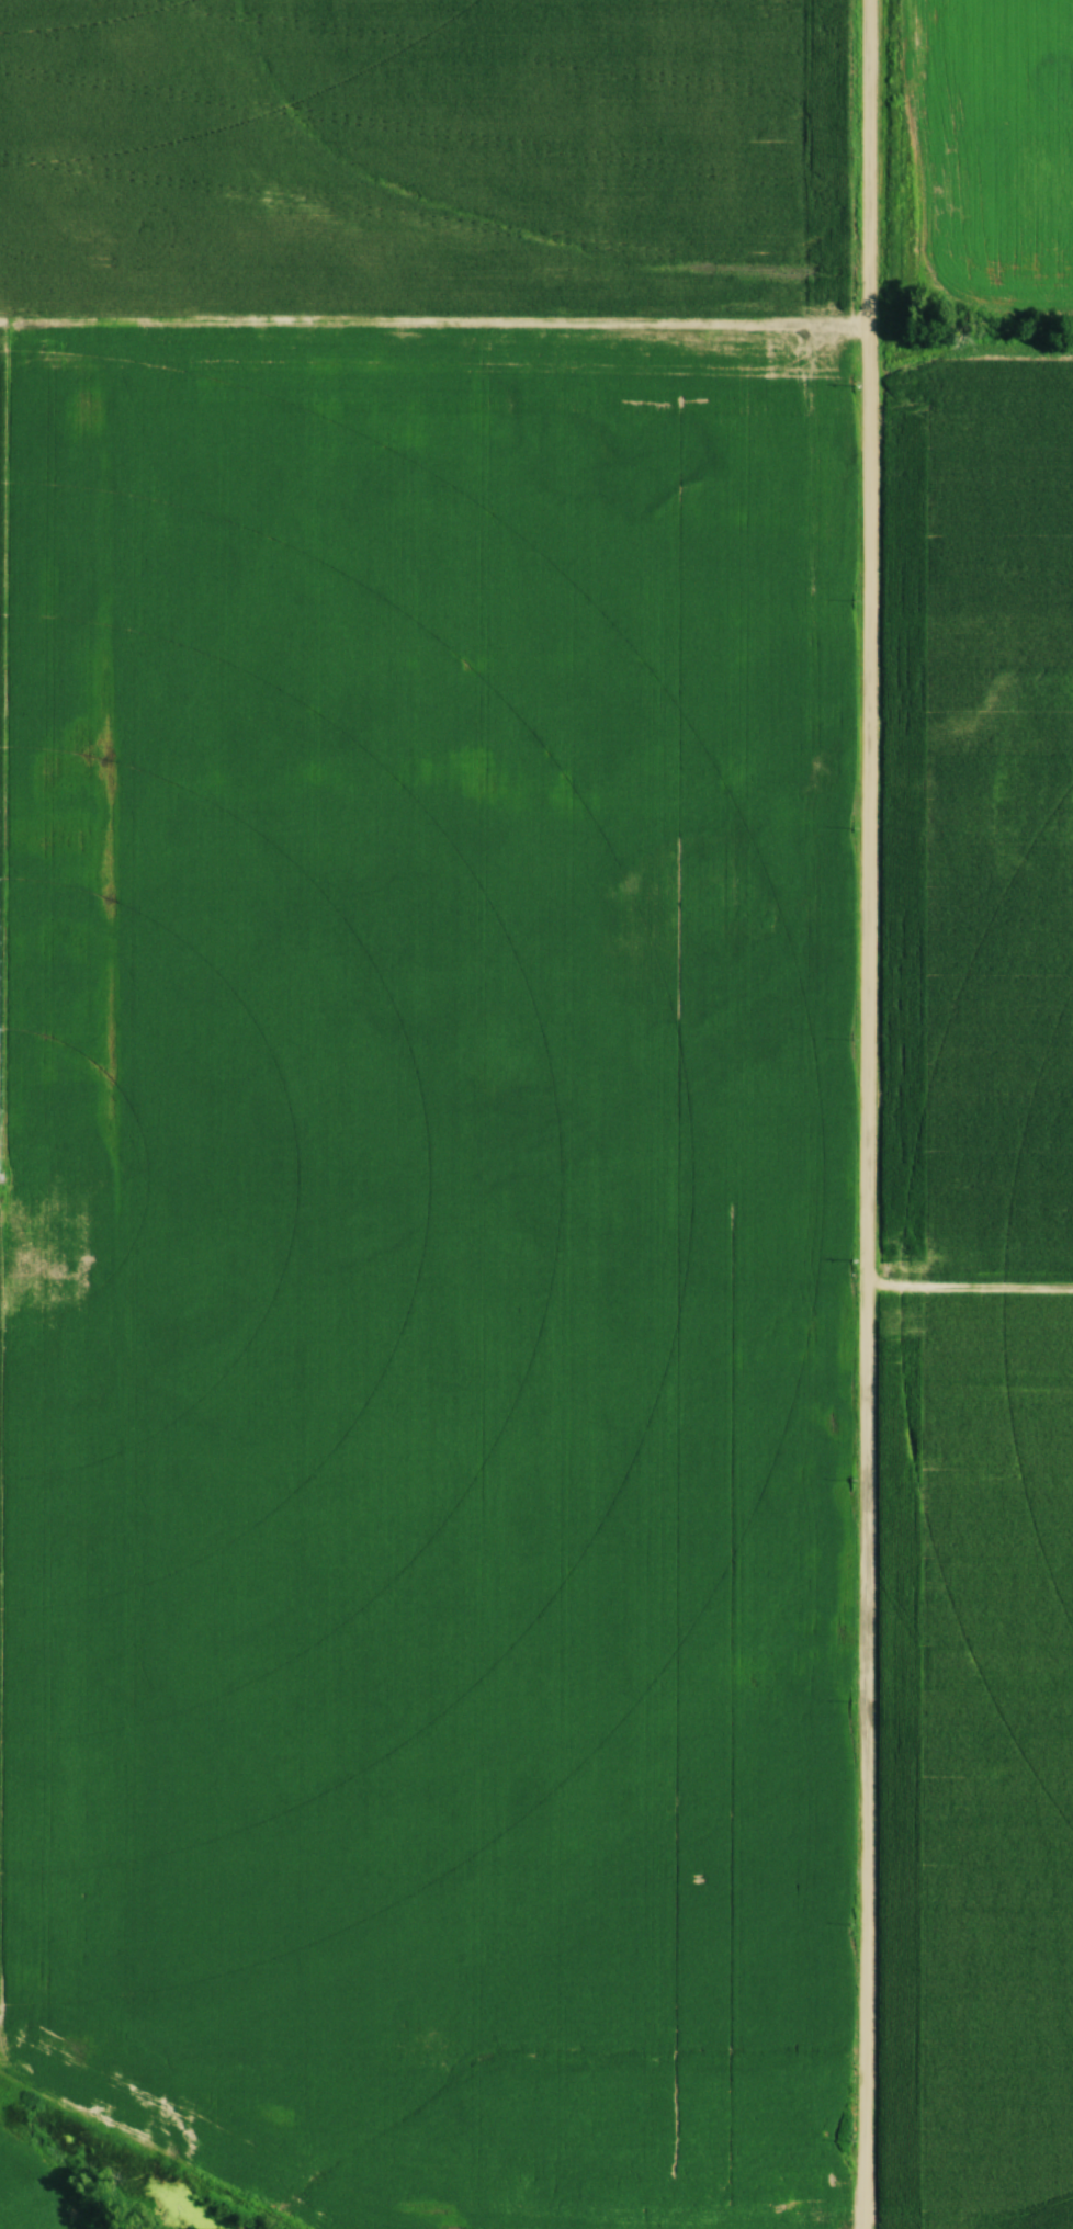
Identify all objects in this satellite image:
road: (865, 1114)
crop: (983, 1311)

